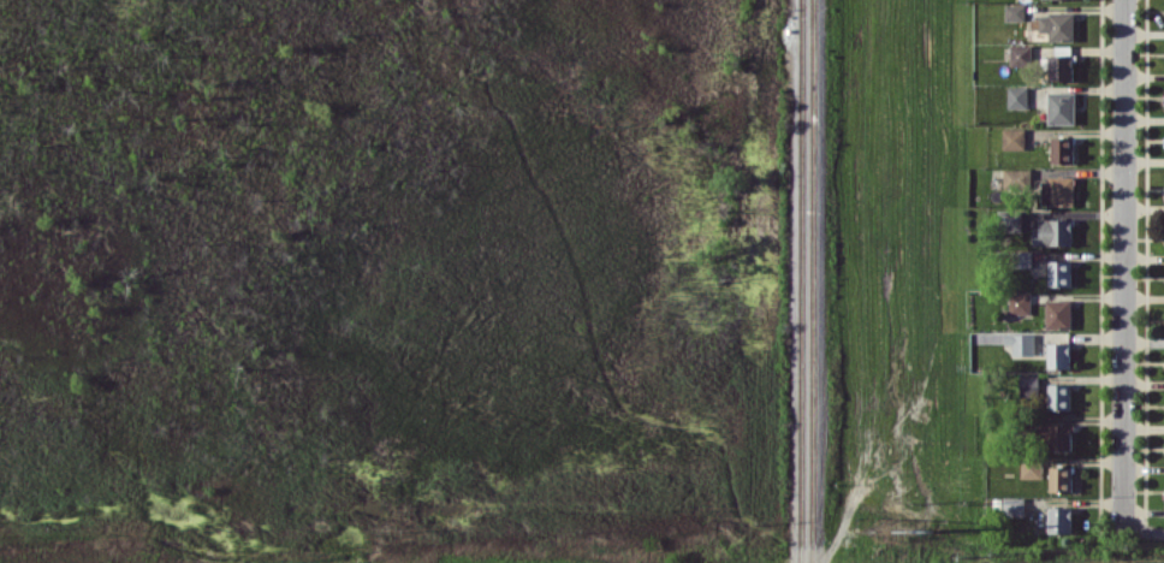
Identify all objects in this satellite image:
building: (1014, 11)
building: (1053, 25)
building: (1020, 54)
building: (1059, 67)
building: (1016, 96)
building: (1061, 107)
building: (1012, 138)
building: (1061, 149)
building: (1016, 177)
building: (1057, 190)
building: (1008, 219)
building: (1052, 231)
road: (1123, 262)
building: (1058, 272)
railway: (801, 281)
railway: (813, 281)
building: (1019, 303)
building: (1057, 313)
building: (1020, 343)
building: (1058, 354)
building: (1028, 384)
building: (1058, 396)
building: (1057, 437)
building: (1031, 467)
building: (1061, 478)
building: (1014, 505)
building: (1061, 520)
road: (1144, 527)
power tower: (938, 529)
power tower: (890, 531)

